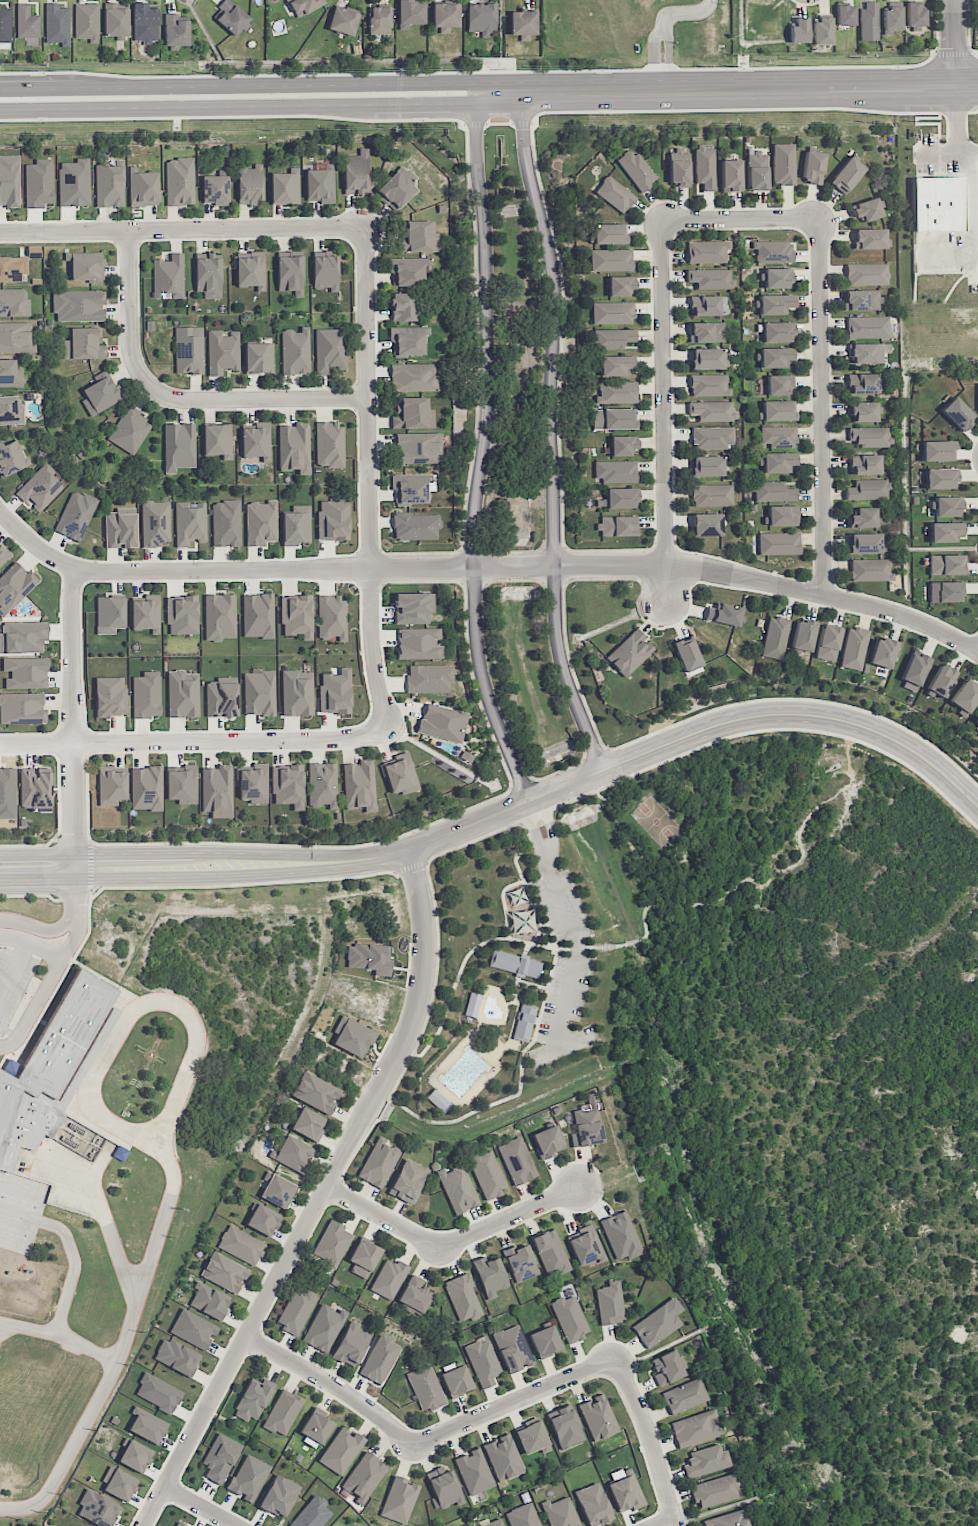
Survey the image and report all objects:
building: (303, 6)
building: (410, 13)
building: (915, 14)
building: (845, 15)
building: (445, 16)
building: (230, 17)
building: (481, 18)
building: (892, 18)
building: (115, 19)
building: (379, 20)
building: (86, 21)
building: (342, 21)
building: (869, 21)
building: (27, 22)
building: (144, 23)
building: (523, 23)
building: (57, 24)
building: (5, 25)
road: (661, 27)
building: (175, 30)
building: (799, 30)
building: (822, 30)
road: (969, 30)
road: (953, 43)
road: (954, 54)
road: (496, 71)
road: (60, 76)
road: (242, 85)
road: (749, 88)
road: (502, 93)
road: (242, 105)
road: (479, 108)
road: (391, 115)
road: (232, 116)
road: (499, 123)
road: (521, 123)
road: (916, 123)
road: (475, 124)
road: (970, 152)
parking lot: (933, 155)
building: (783, 163)
building: (813, 166)
building: (679, 167)
building: (705, 167)
building: (636, 169)
building: (757, 171)
building: (356, 173)
building: (731, 175)
building: (846, 175)
building: (9, 180)
building: (179, 181)
building: (250, 184)
building: (320, 184)
building: (109, 186)
building: (285, 186)
building: (143, 189)
building: (215, 189)
building: (396, 190)
road: (973, 191)
building: (615, 194)
building: (937, 204)
road: (358, 208)
building: (866, 209)
road: (739, 217)
road: (183, 228)
building: (609, 233)
building: (419, 237)
building: (869, 238)
building: (707, 251)
building: (772, 251)
parking lot: (940, 252)
building: (611, 260)
building: (86, 266)
building: (12, 268)
building: (249, 270)
building: (406, 271)
building: (290, 272)
building: (325, 272)
building: (867, 274)
building: (208, 276)
building: (168, 277)
building: (710, 278)
building: (776, 278)
building: (620, 286)
building: (861, 299)
building: (13, 302)
building: (775, 303)
building: (78, 305)
building: (705, 305)
building: (405, 307)
building: (613, 312)
building: (867, 327)
building: (777, 331)
building: (706, 332)
road: (477, 337)
building: (15, 338)
building: (612, 338)
building: (407, 341)
building: (84, 344)
building: (329, 349)
building: (188, 350)
building: (223, 351)
building: (295, 351)
building: (866, 353)
building: (258, 357)
building: (775, 357)
building: (706, 358)
road: (144, 364)
building: (616, 365)
building: (10, 374)
building: (412, 376)
building: (862, 383)
building: (778, 384)
building: (709, 385)
building: (617, 392)
building: (100, 396)
road: (175, 397)
road: (820, 406)
building: (778, 410)
building: (10, 411)
road: (663, 411)
building: (712, 411)
building: (863, 411)
building: (957, 413)
building: (413, 414)
building: (619, 418)
road: (357, 425)
building: (129, 430)
road: (550, 433)
building: (778, 436)
building: (871, 436)
building: (712, 437)
building: (217, 439)
building: (256, 441)
building: (329, 444)
building: (623, 445)
building: (178, 446)
building: (294, 447)
building: (417, 448)
building: (937, 450)
building: (11, 457)
road: (970, 458)
building: (778, 462)
building: (865, 464)
road: (481, 466)
building: (706, 466)
building: (615, 471)
building: (940, 478)
road: (368, 482)
building: (39, 487)
building: (409, 488)
building: (867, 490)
building: (773, 491)
building: (712, 495)
building: (618, 498)
road: (654, 498)
building: (946, 506)
building: (75, 515)
building: (782, 515)
building: (863, 517)
building: (333, 518)
building: (190, 522)
building: (155, 523)
building: (225, 523)
building: (260, 523)
building: (706, 524)
building: (296, 525)
building: (415, 526)
building: (618, 526)
building: (120, 528)
building: (945, 531)
building: (779, 543)
building: (864, 543)
road: (552, 547)
road: (473, 550)
road: (512, 552)
road: (420, 553)
building: (2, 557)
building: (946, 564)
road: (228, 568)
building: (870, 569)
road: (732, 574)
road: (514, 580)
road: (473, 583)
road: (554, 583)
building: (13, 586)
road: (464, 587)
building: (946, 591)
building: (413, 608)
building: (145, 613)
building: (109, 614)
building: (182, 614)
building: (723, 614)
building: (257, 615)
building: (219, 616)
building: (296, 616)
building: (331, 617)
road: (563, 622)
building: (803, 635)
building: (22, 637)
building: (775, 637)
road: (60, 641)
building: (419, 643)
building: (828, 643)
building: (853, 648)
building: (629, 652)
building: (882, 652)
building: (686, 653)
building: (914, 671)
building: (26, 672)
building: (429, 678)
building: (941, 680)
building: (259, 692)
building: (297, 692)
building: (335, 692)
building: (146, 694)
building: (182, 694)
building: (110, 696)
building: (965, 696)
building: (221, 697)
building: (21, 708)
road: (71, 709)
road: (365, 719)
building: (976, 720)
building: (442, 722)
road: (775, 729)
road: (192, 739)
road: (673, 741)
road: (595, 754)
road: (562, 769)
building: (400, 774)
road: (59, 779)
building: (253, 783)
building: (181, 784)
building: (322, 784)
road: (521, 784)
building: (288, 785)
building: (359, 785)
building: (111, 786)
building: (35, 787)
building: (146, 788)
building: (217, 791)
road: (536, 813)
park: (656, 821)
road: (551, 830)
road: (485, 834)
road: (535, 834)
road: (624, 837)
road: (70, 840)
road: (26, 845)
road: (179, 852)
road: (74, 866)
road: (410, 867)
road: (90, 868)
road: (180, 877)
road: (532, 880)
road: (243, 883)
road: (527, 892)
road: (31, 894)
road: (75, 896)
road: (75, 899)
road: (504, 902)
road: (648, 905)
road: (537, 935)
road: (32, 944)
road: (526, 948)
road: (577, 948)
road: (68, 949)
parking lot: (577, 953)
road: (577, 956)
building: (369, 958)
road: (464, 960)
building: (515, 964)
road: (13, 970)
road: (95, 973)
road: (98, 977)
parking lot: (14, 979)
road: (55, 988)
road: (966, 997)
building: (472, 1004)
road: (136, 1007)
building: (524, 1022)
road: (421, 1029)
building: (353, 1037)
road: (538, 1040)
road: (562, 1046)
road: (522, 1051)
building: (49, 1066)
building: (316, 1093)
building: (438, 1100)
building: (587, 1123)
building: (307, 1124)
building: (548, 1141)
building: (120, 1153)
building: (292, 1153)
building: (517, 1160)
building: (378, 1163)
road: (100, 1166)
building: (487, 1173)
building: (407, 1181)
building: (458, 1189)
road: (913, 1189)
building: (278, 1191)
road: (320, 1196)
park: (20, 1201)
road: (104, 1215)
building: (262, 1219)
park: (14, 1231)
building: (621, 1235)
road: (450, 1241)
building: (331, 1244)
building: (241, 1245)
building: (585, 1246)
building: (550, 1253)
building: (363, 1258)
building: (520, 1262)
road: (73, 1269)
building: (224, 1272)
building: (490, 1276)
building: (389, 1278)
building: (414, 1295)
building: (463, 1297)
building: (209, 1300)
building: (609, 1303)
building: (296, 1311)
road: (245, 1312)
building: (569, 1318)
building: (657, 1323)
building: (323, 1327)
building: (193, 1328)
road: (60, 1335)
building: (544, 1341)
road: (912, 1342)
road: (124, 1344)
building: (350, 1344)
building: (512, 1348)
building: (176, 1356)
building: (379, 1358)
building: (482, 1361)
road: (952, 1365)
building: (666, 1368)
building: (456, 1380)
road: (332, 1383)
building: (426, 1388)
building: (158, 1392)
building: (684, 1396)
building: (251, 1401)
road: (513, 1401)
building: (282, 1412)
building: (597, 1417)
building: (147, 1425)
building: (564, 1426)
building: (314, 1427)
building: (695, 1428)
building: (531, 1437)
road: (651, 1439)
building: (341, 1450)
building: (134, 1455)
building: (220, 1457)
building: (503, 1457)
building: (705, 1460)
building: (474, 1471)
building: (248, 1477)
building: (364, 1477)
building: (118, 1483)
building: (444, 1488)
building: (714, 1490)
building: (625, 1491)
building: (279, 1496)
building: (399, 1499)
building: (593, 1504)
road: (199, 1507)
building: (97, 1508)
building: (560, 1512)
building: (312, 1513)
building: (522, 1516)
building: (727, 1519)
road: (661, 1521)
building: (494, 1523)
building: (177, 1524)

